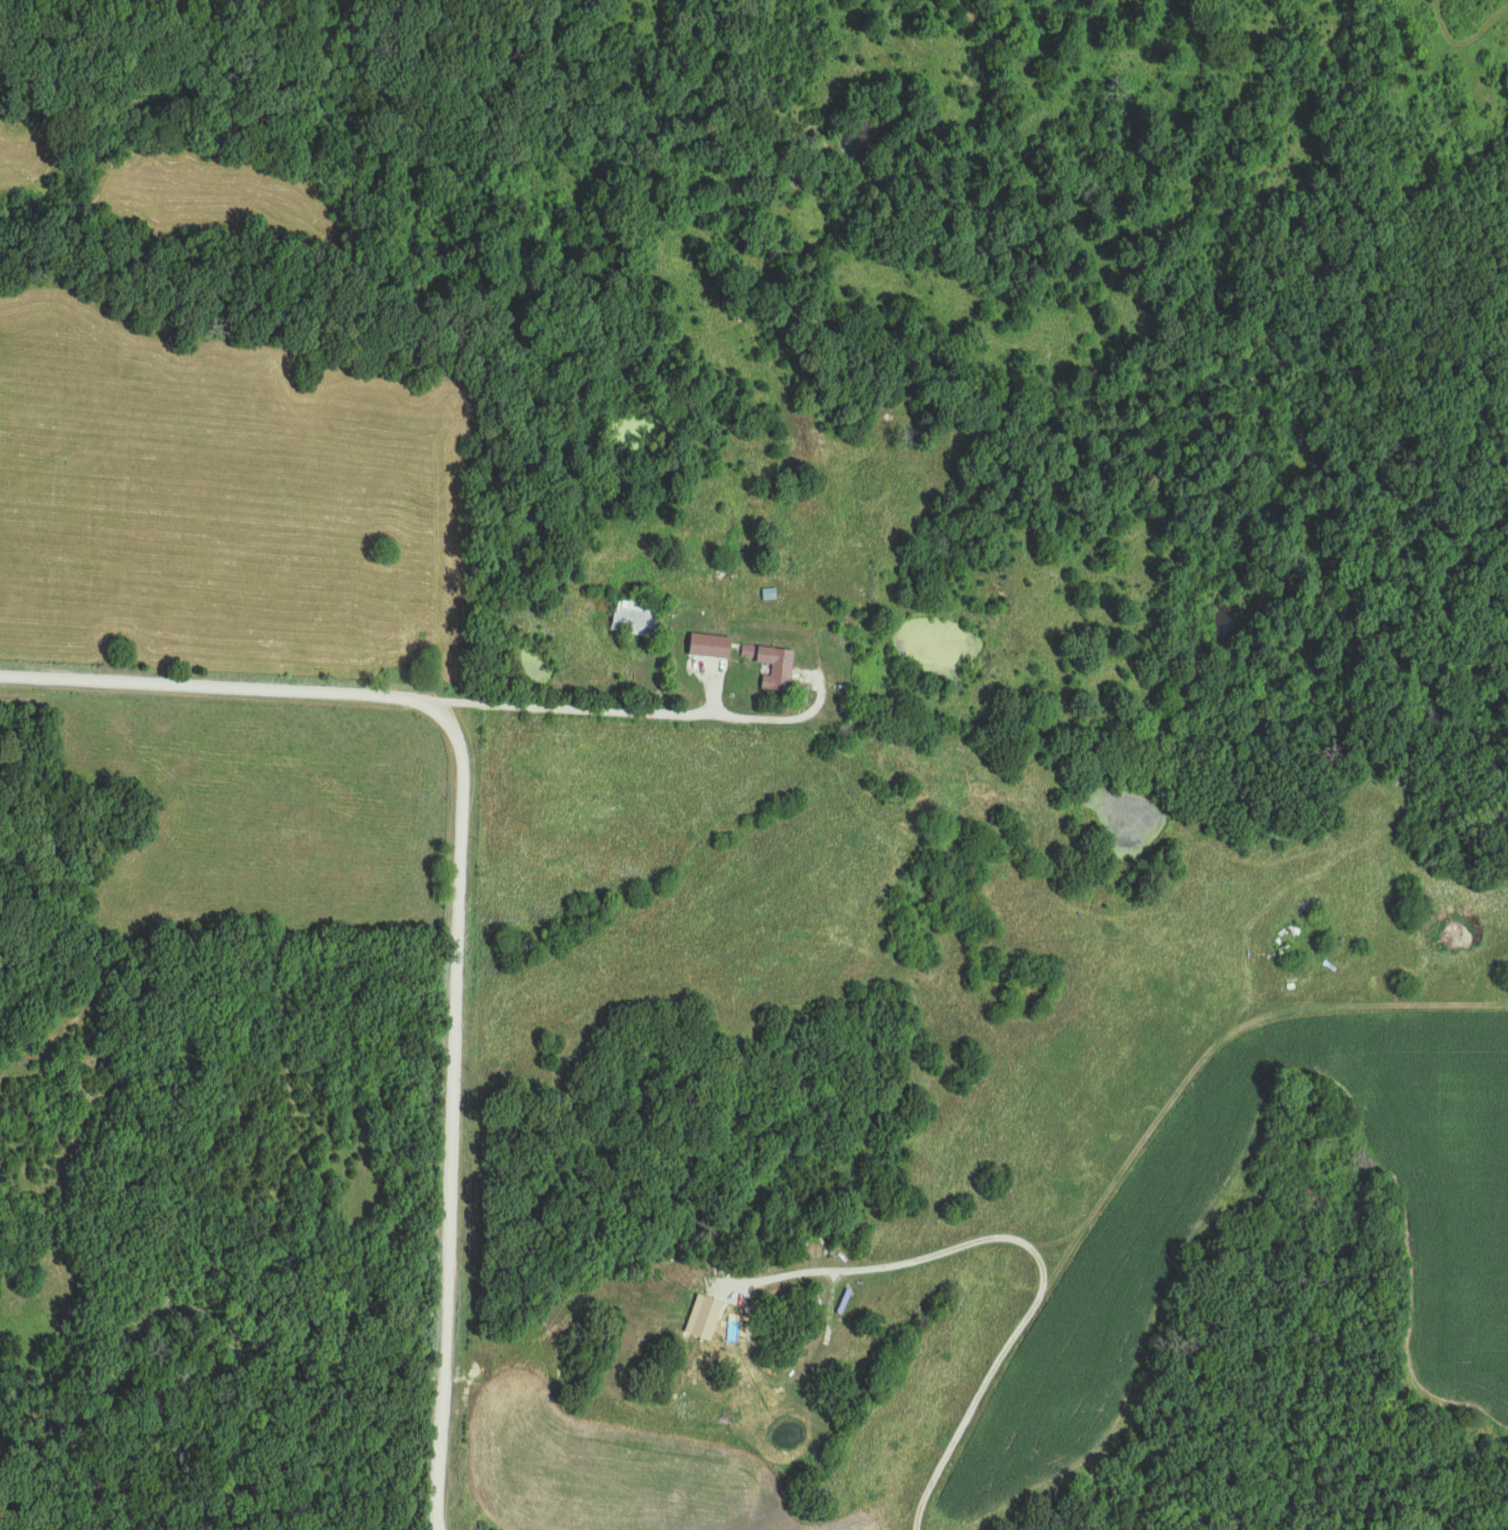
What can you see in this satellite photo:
building: (635, 619)
building: (777, 669)
road: (226, 689)
road: (661, 716)
road: (453, 1123)
road: (1148, 1159)

